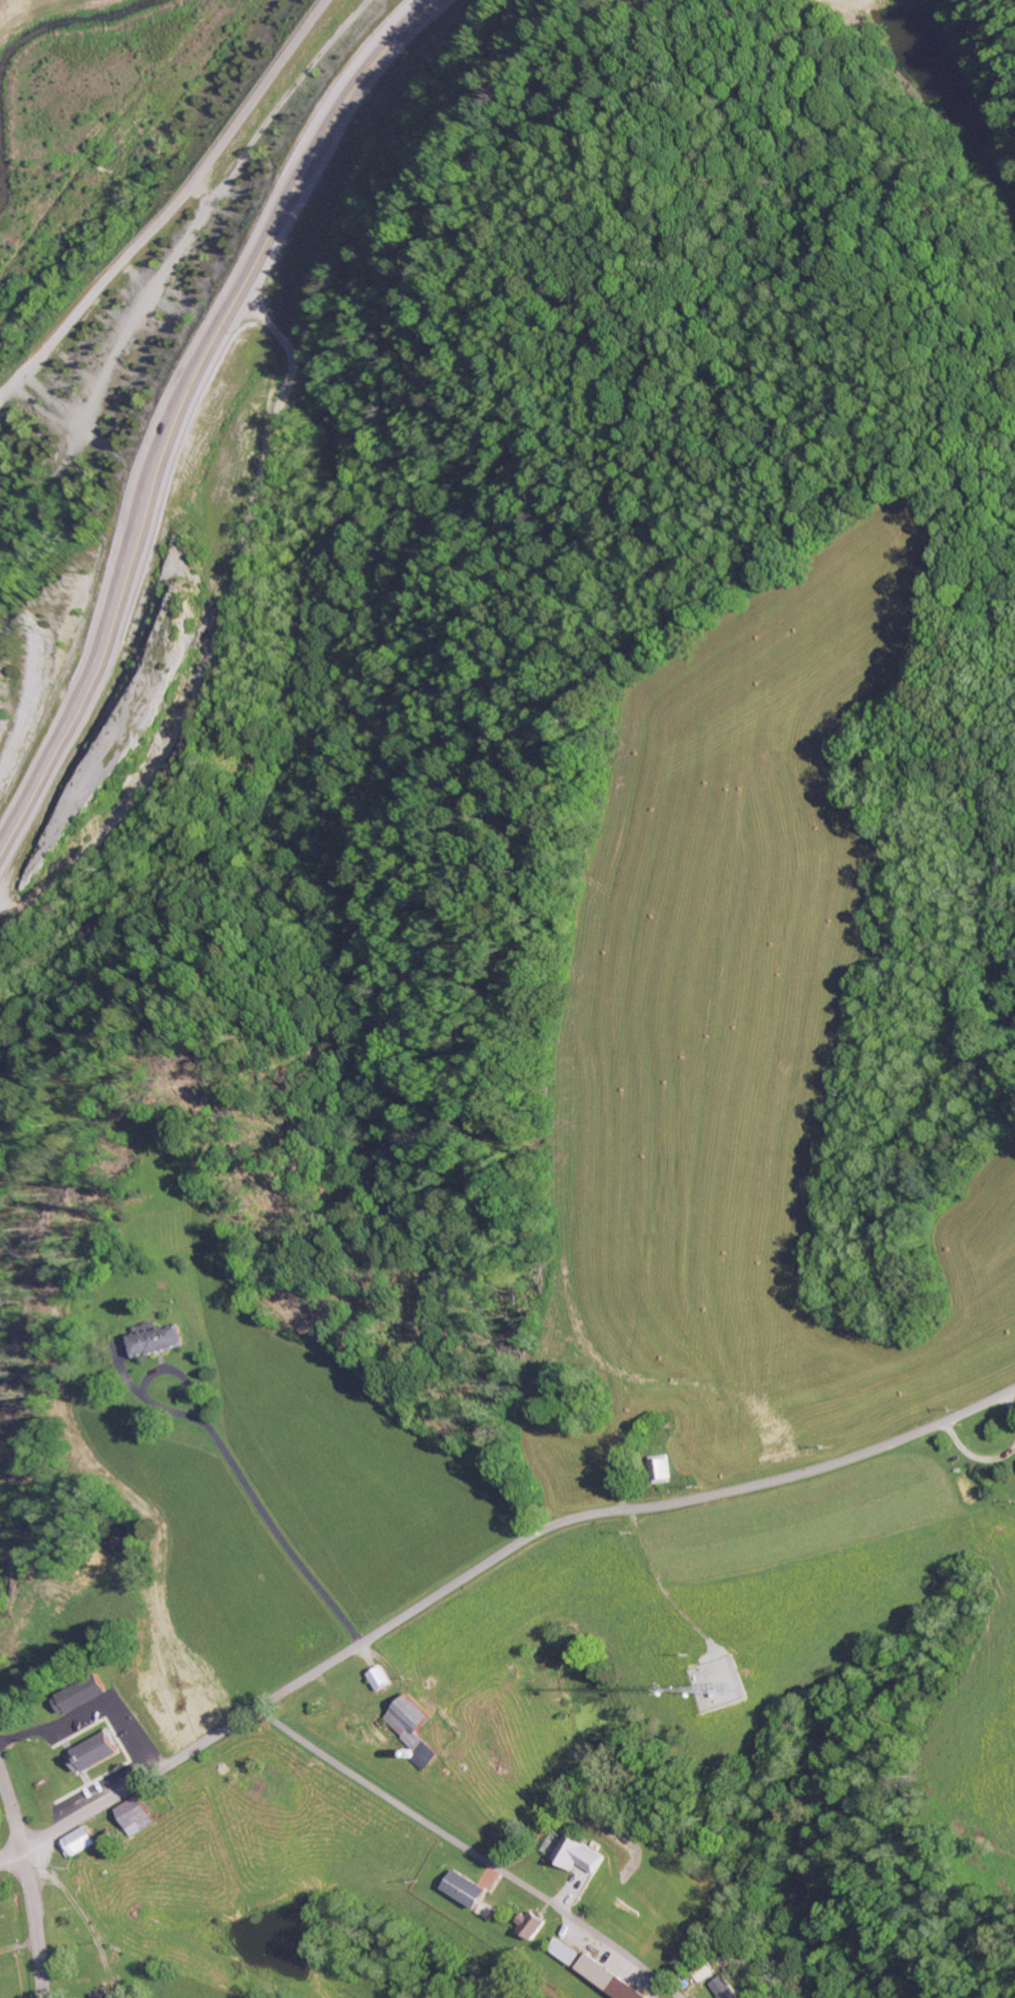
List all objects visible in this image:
road: (199, 178)
road: (25, 372)
road: (198, 400)
building: (155, 1340)
building: (659, 1469)
road: (493, 1559)
building: (379, 1678)
building: (78, 1695)
road: (95, 1706)
building: (413, 1730)
parking lot: (143, 1752)
building: (92, 1753)
building: (135, 1816)
building: (77, 1842)
road: (477, 1853)
road: (12, 1854)
building: (577, 1855)
road: (30, 1881)
building: (463, 1889)
building: (528, 1925)
building: (562, 1952)
building: (605, 1979)
building: (723, 1988)
building: (106, 1995)

